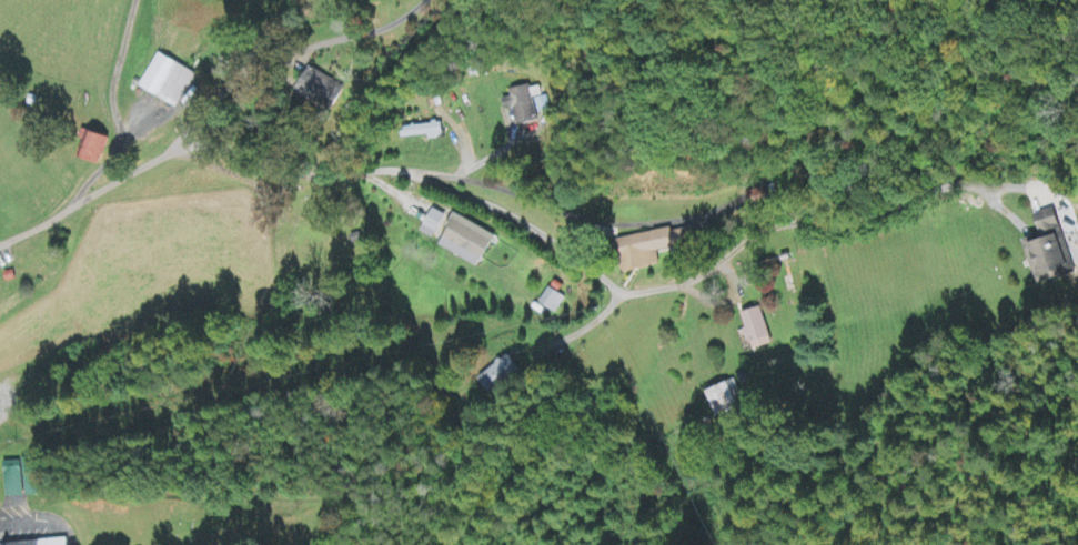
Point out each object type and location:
building: (169, 82)
building: (321, 91)
building: (527, 104)
building: (422, 132)
building: (94, 148)
road: (173, 149)
road: (546, 203)
building: (434, 225)
building: (467, 242)
building: (654, 249)
building: (1049, 252)
building: (551, 302)
building: (757, 331)
building: (503, 376)
building: (725, 400)
building: (31, 477)
building: (13, 484)
park: (248, 526)
building: (44, 542)

